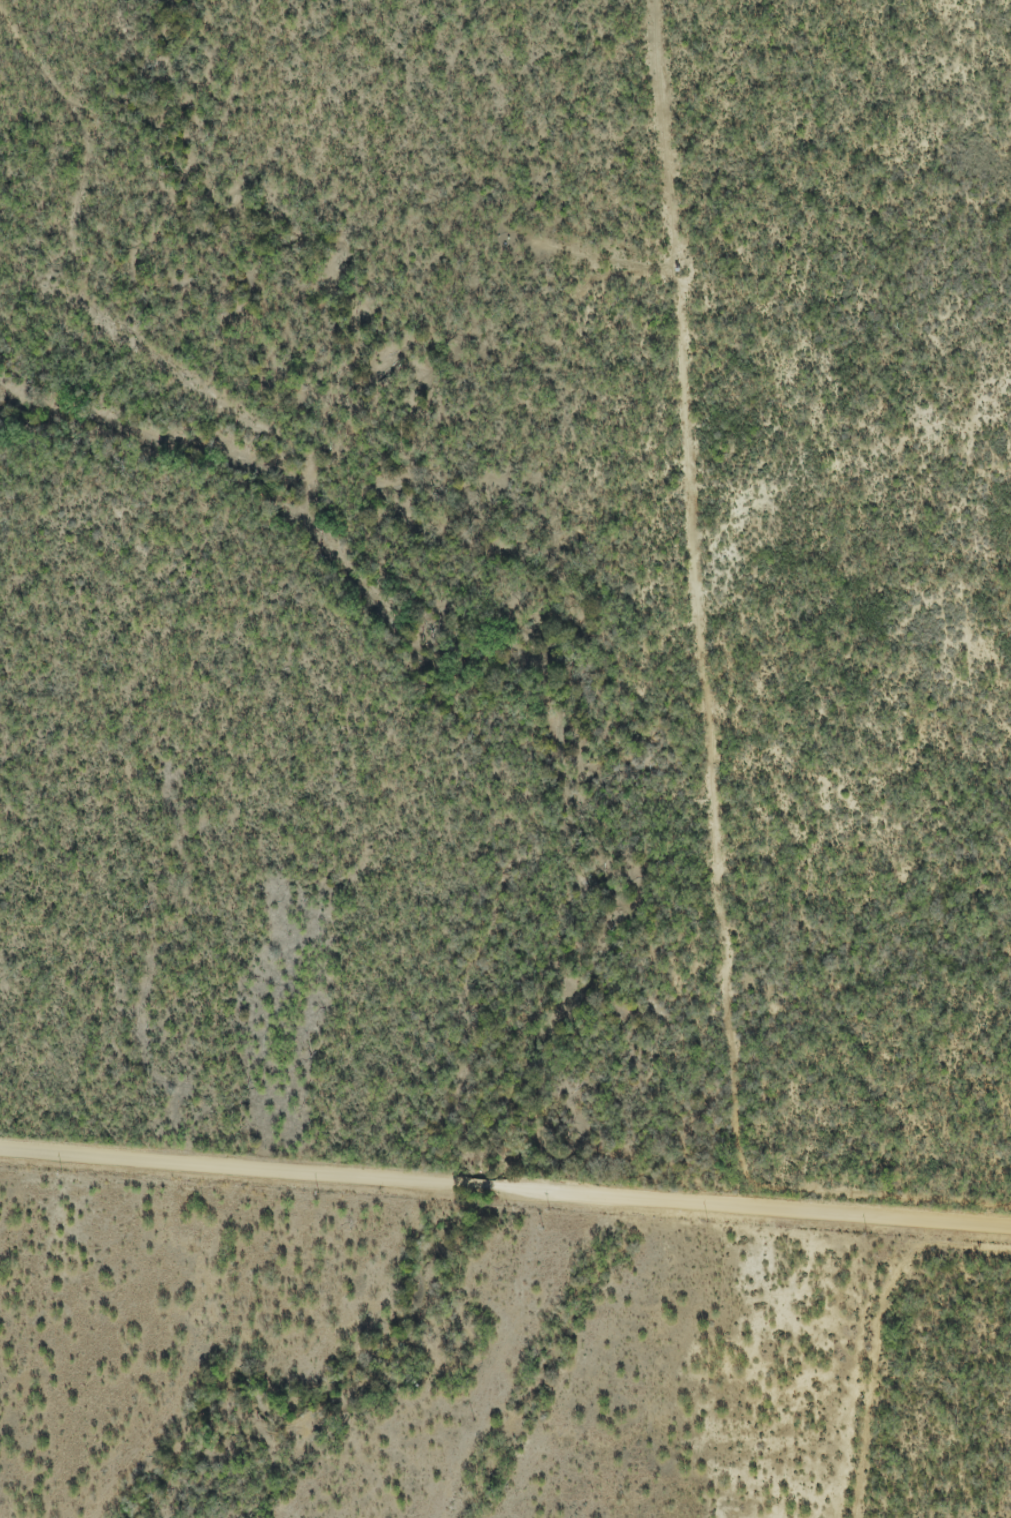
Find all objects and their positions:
road: (505, 1181)

